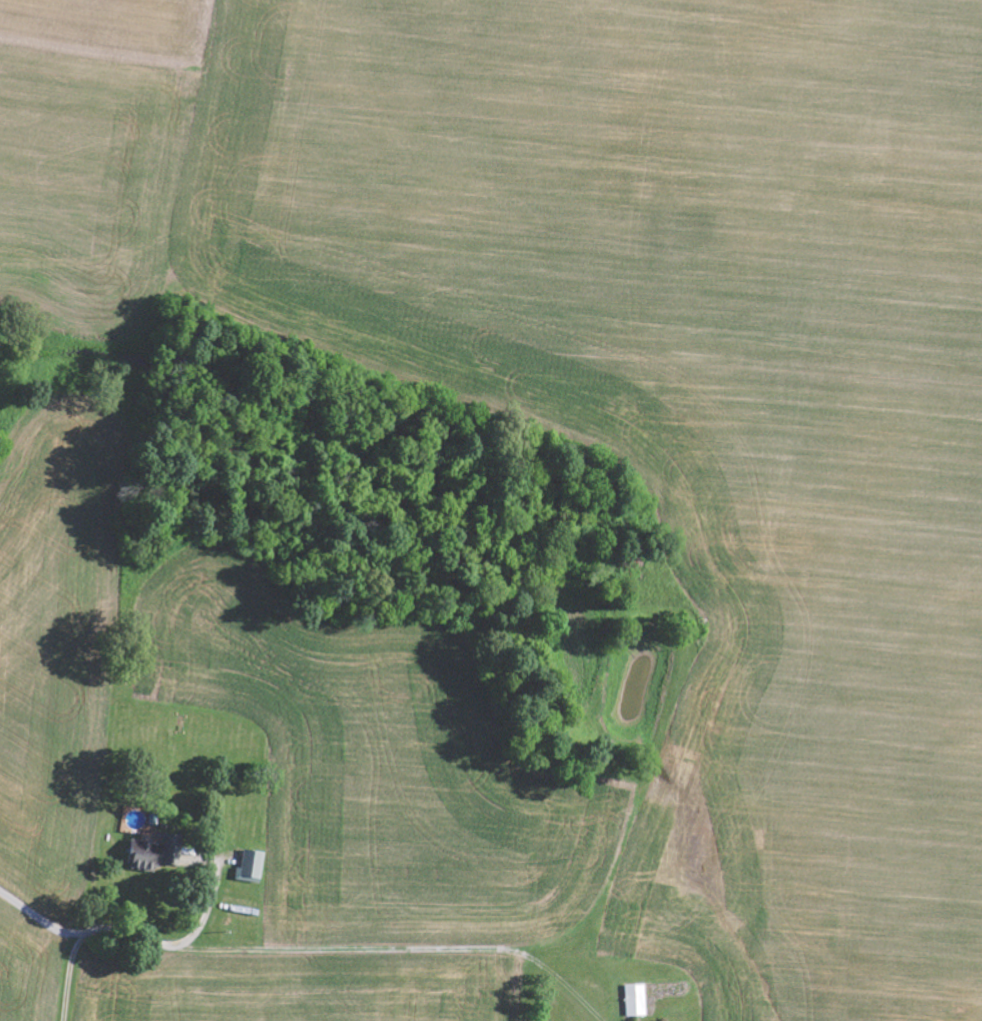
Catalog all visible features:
building: (153, 849)
building: (247, 861)
road: (134, 934)
building: (632, 997)

